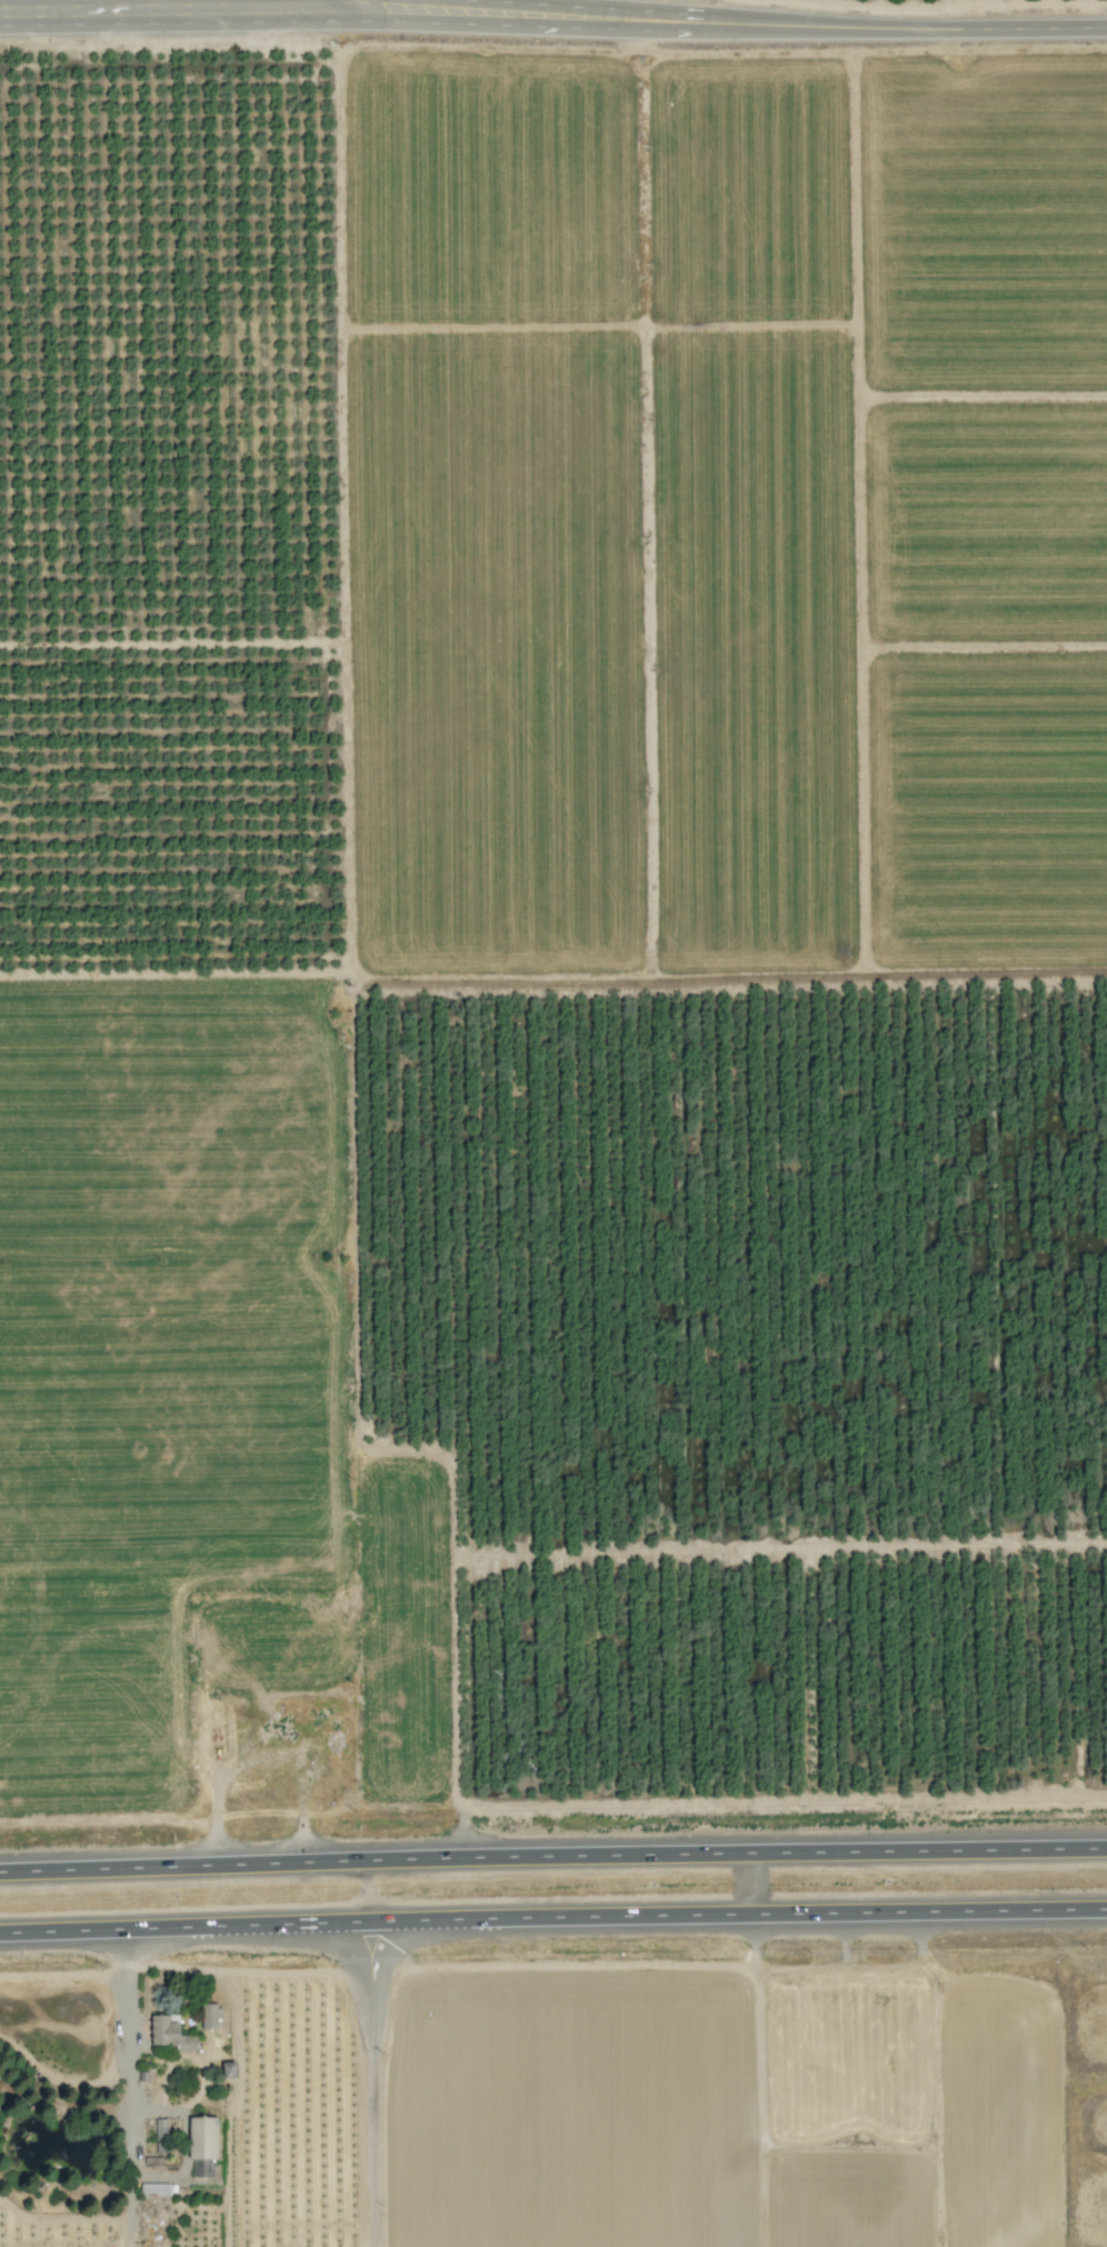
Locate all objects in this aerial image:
road: (316, 11)
road: (78, 13)
road: (676, 13)
crop: (159, 23)
road: (450, 24)
road: (1003, 29)
crop: (555, 927)
road: (552, 1857)
road: (552, 1916)
building: (210, 2017)
building: (169, 2034)
building: (228, 2069)
road: (371, 2084)
road: (129, 2088)
crop: (558, 2106)
building: (161, 2129)
building: (201, 2138)
building: (154, 2189)

